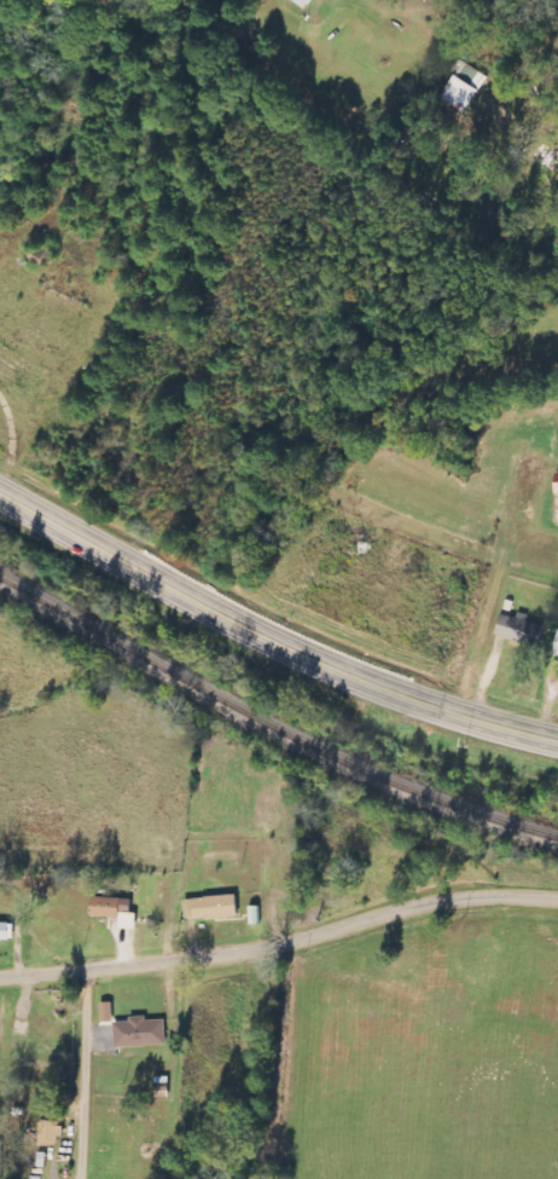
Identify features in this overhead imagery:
building: (303, 2)
building: (465, 88)
building: (557, 485)
building: (519, 629)
road: (267, 643)
building: (556, 648)
railway: (271, 721)
building: (211, 908)
building: (115, 911)
road: (278, 927)
building: (6, 932)
building: (106, 1012)
building: (140, 1033)
road: (83, 1075)
building: (51, 1132)
building: (0, 1151)

